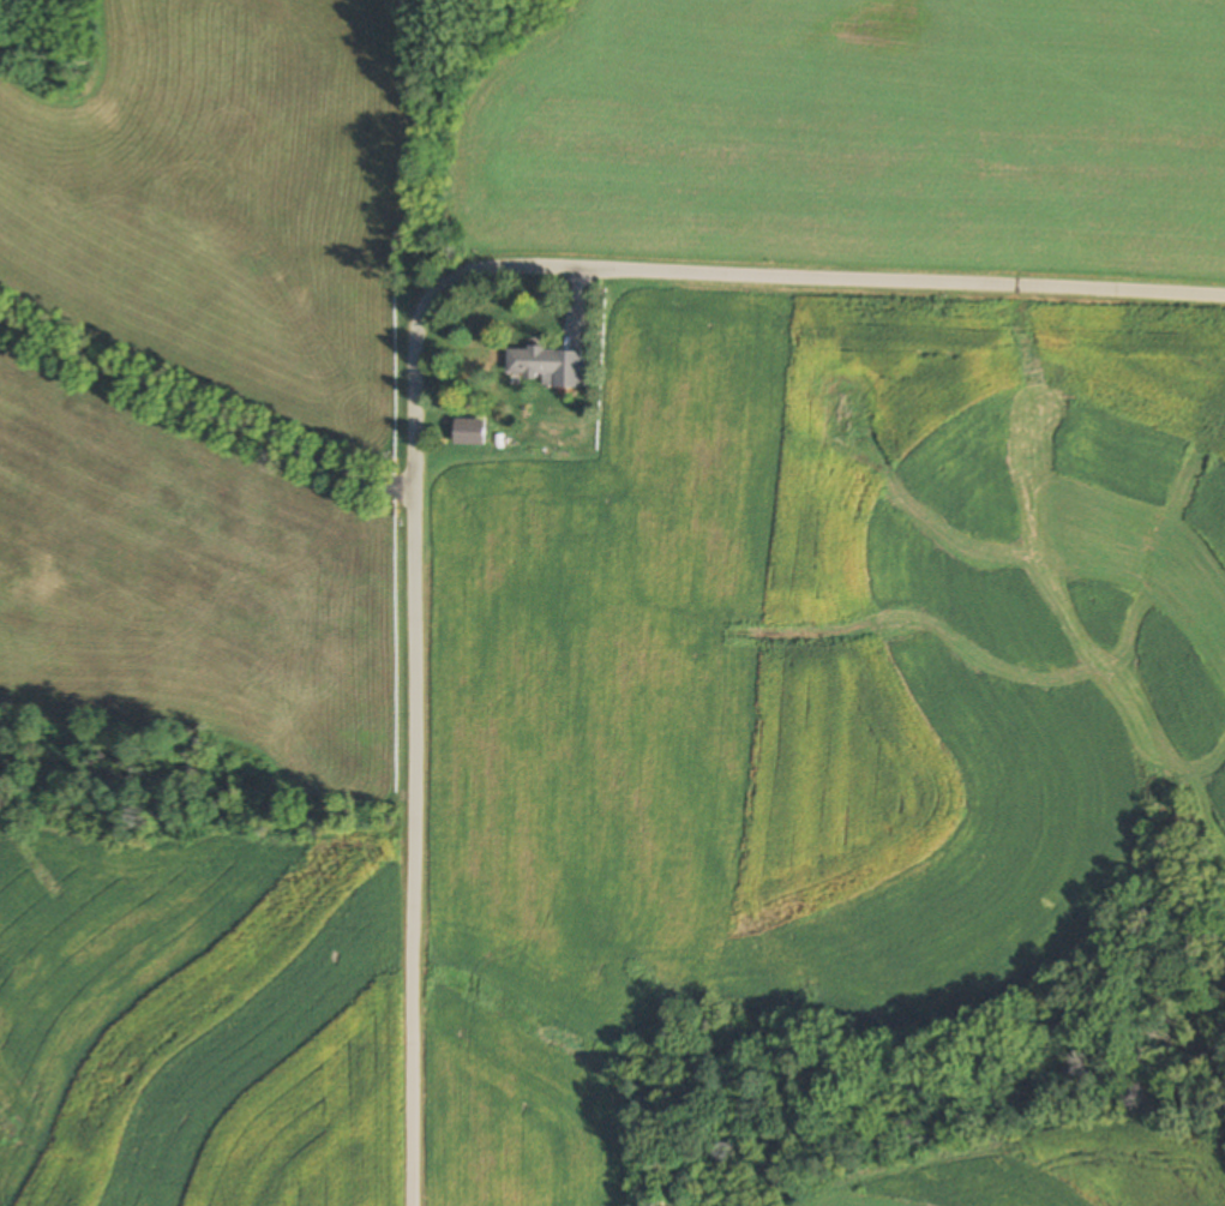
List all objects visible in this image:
road: (414, 348)
building: (546, 366)

